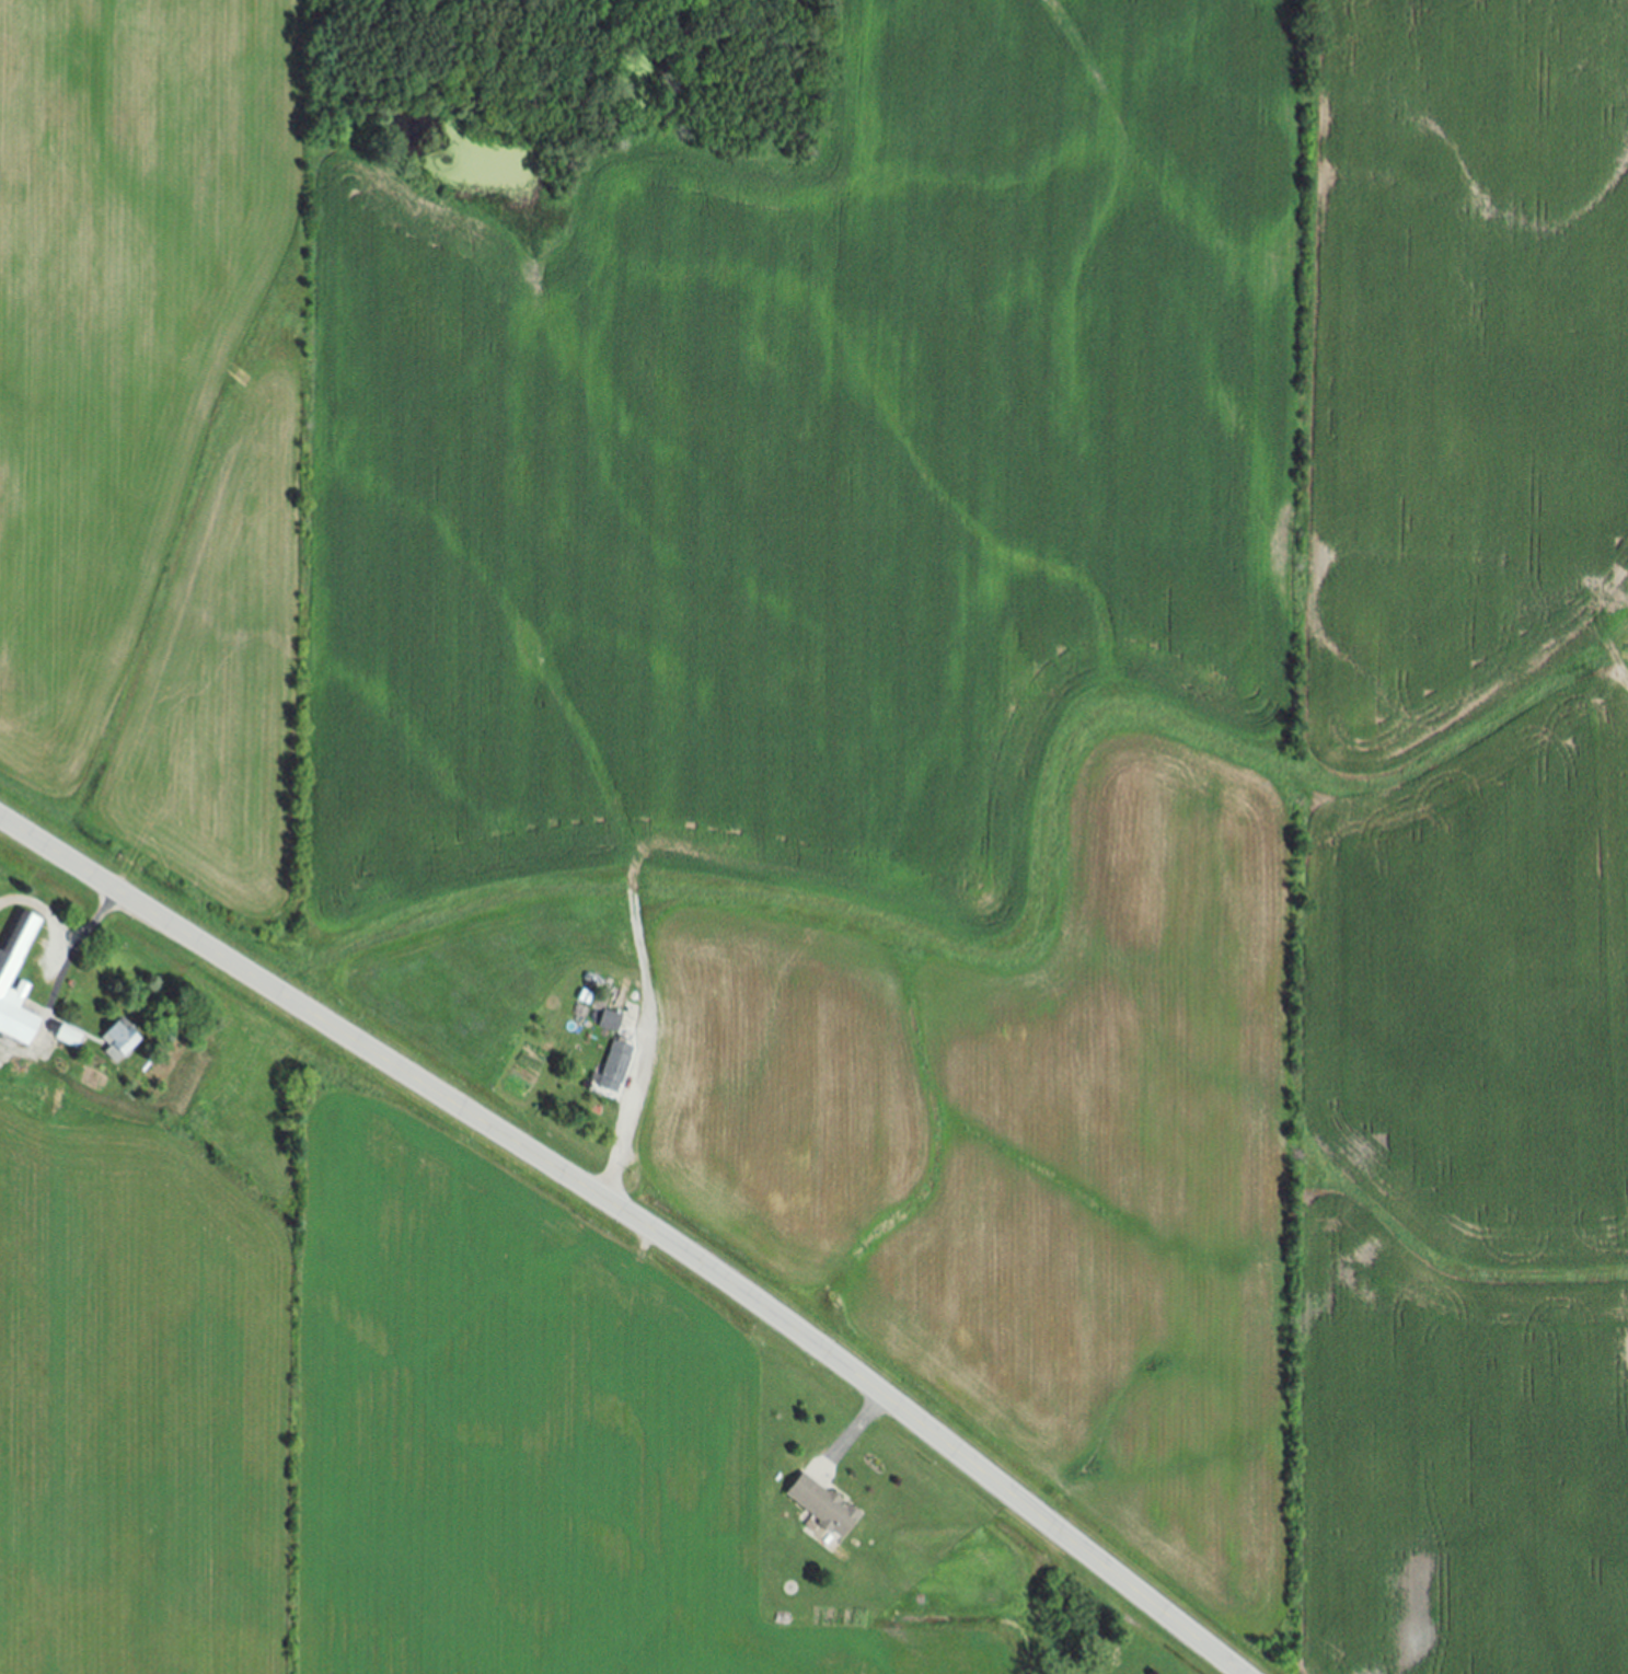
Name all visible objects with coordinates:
road: (82, 934)
building: (16, 980)
building: (611, 1027)
building: (69, 1038)
building: (122, 1041)
building: (616, 1066)
road: (626, 1130)
road: (636, 1221)
road: (858, 1425)
building: (825, 1508)
road: (1236, 1673)

